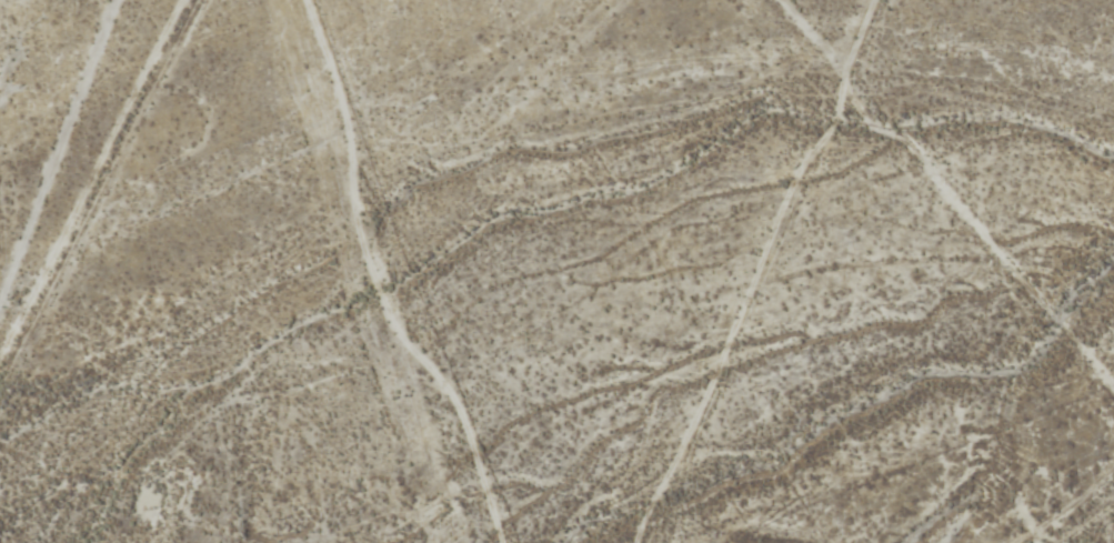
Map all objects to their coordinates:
road: (89, 177)

